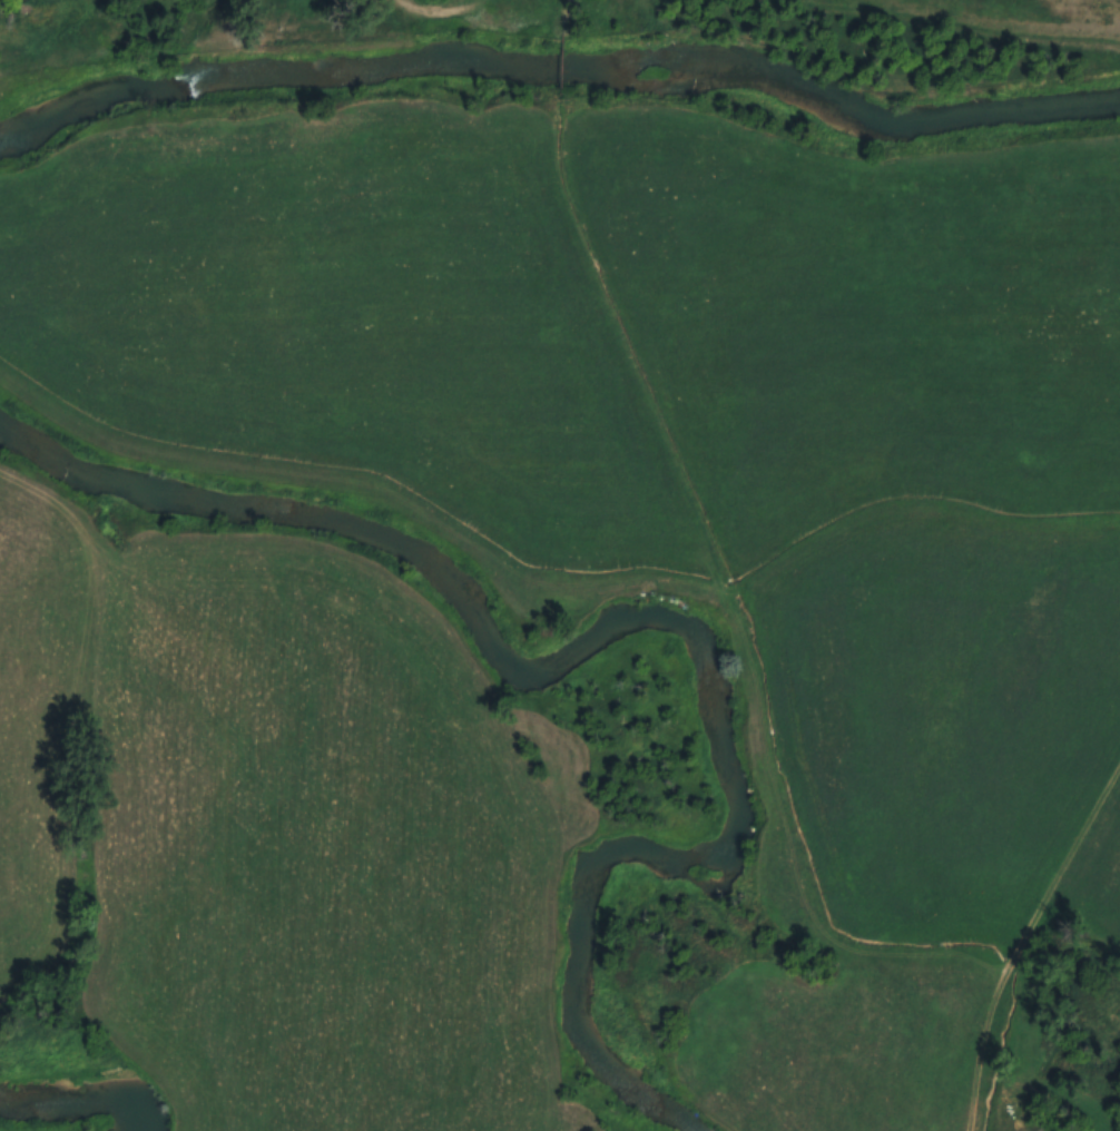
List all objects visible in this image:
river: (557, 48)
river: (629, 613)
river: (78, 1093)

